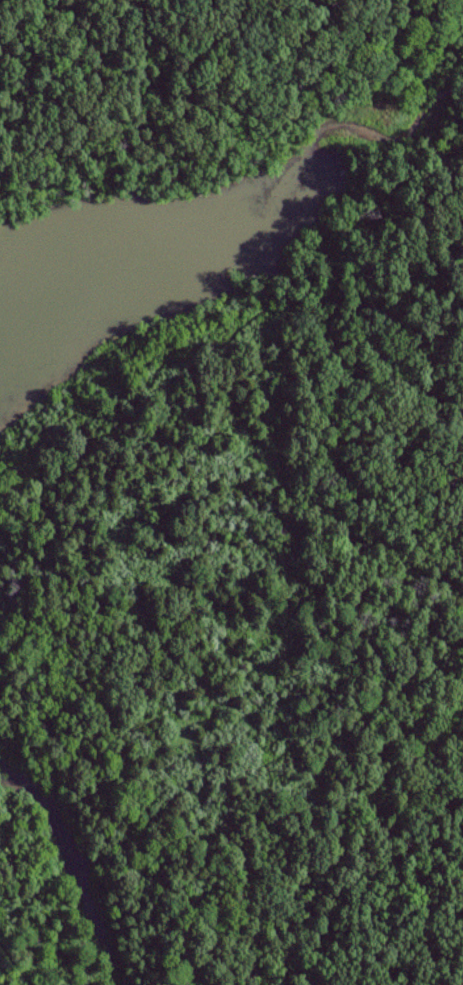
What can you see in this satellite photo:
road: (245, 135)
road: (246, 325)
road: (15, 963)

